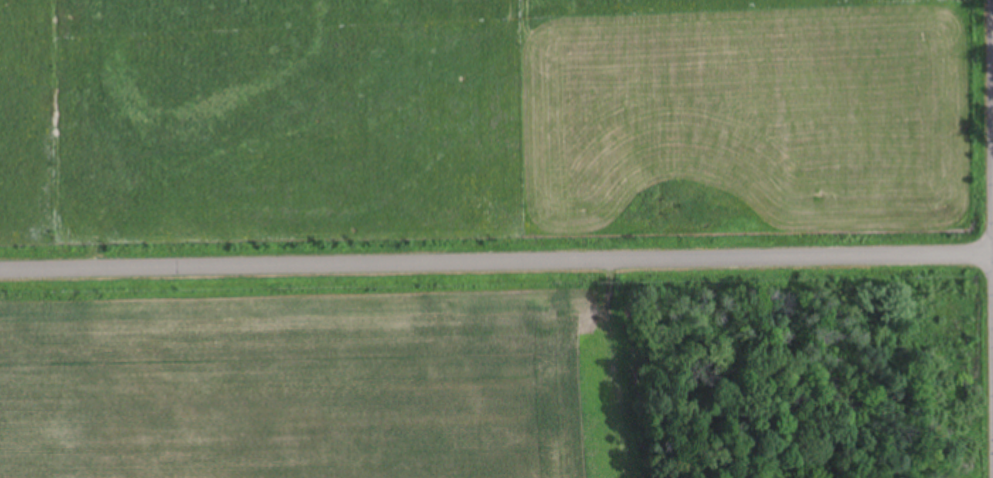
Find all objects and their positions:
road: (496, 262)

